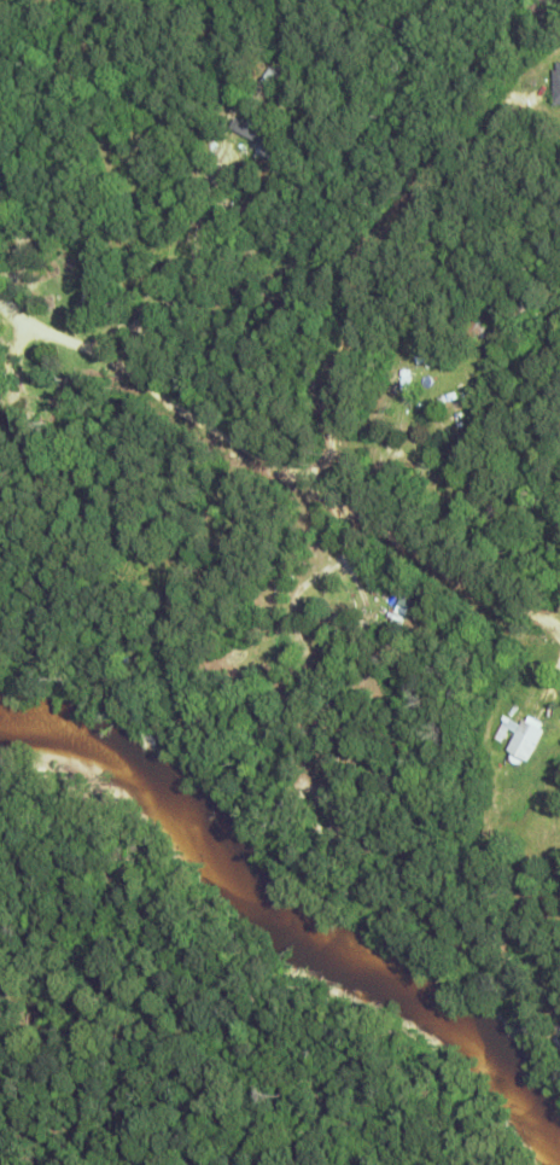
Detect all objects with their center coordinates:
building: (268, 76)
building: (555, 82)
building: (253, 133)
building: (473, 326)
building: (456, 425)
road: (279, 465)
building: (154, 566)
building: (404, 605)
building: (188, 712)
building: (524, 740)
river: (287, 909)

